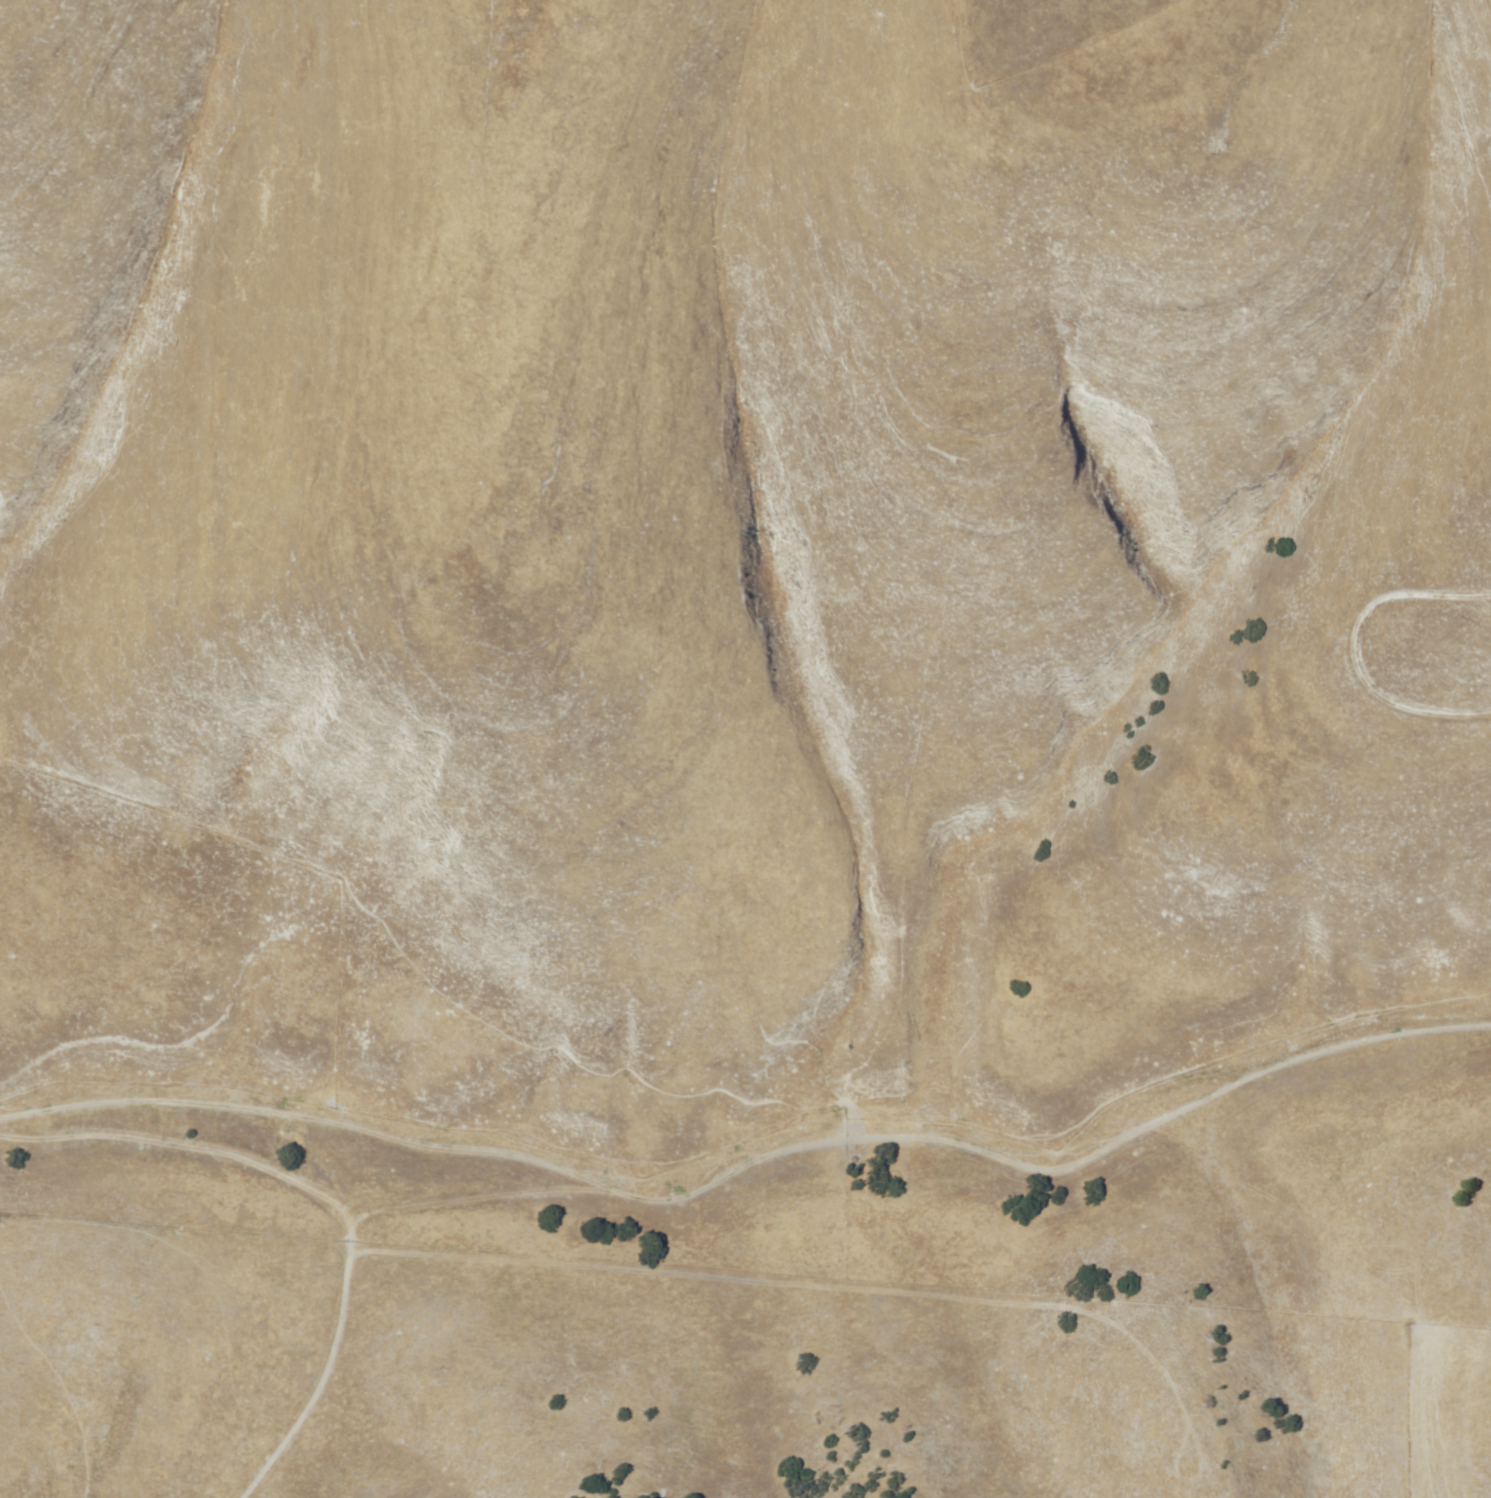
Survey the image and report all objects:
road: (1359, 649)
road: (745, 1203)
road: (224, 1214)
road: (321, 1382)

